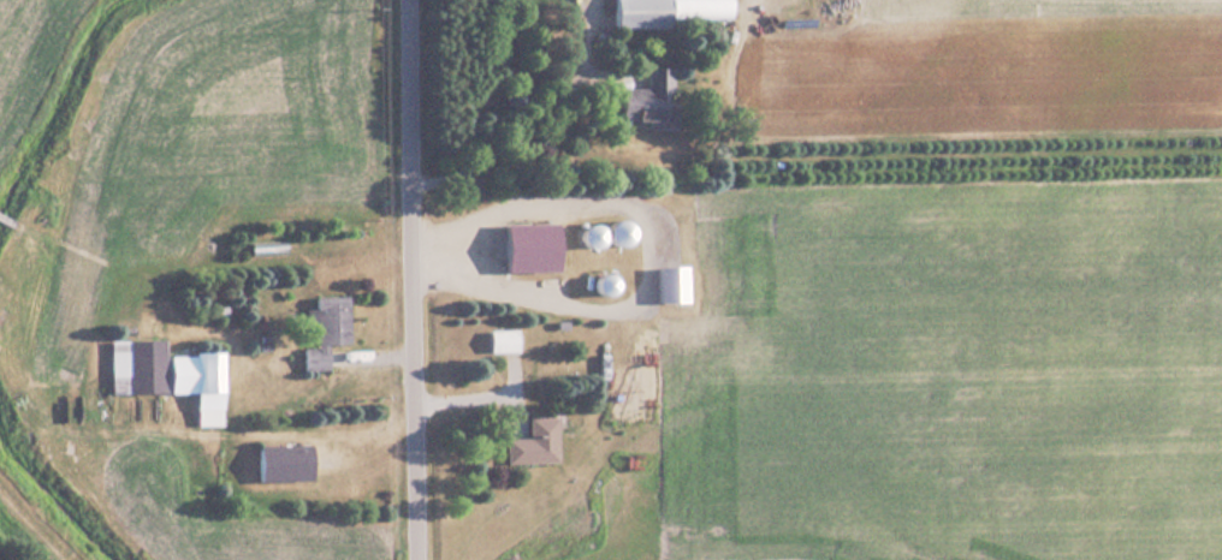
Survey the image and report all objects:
building: (666, 12)
building: (641, 99)
road: (530, 112)
building: (251, 198)
building: (610, 232)
building: (585, 234)
building: (263, 248)
road: (419, 280)
building: (598, 284)
building: (665, 284)
building: (321, 328)
building: (497, 341)
building: (164, 375)
building: (529, 443)
building: (207, 451)
building: (277, 463)

